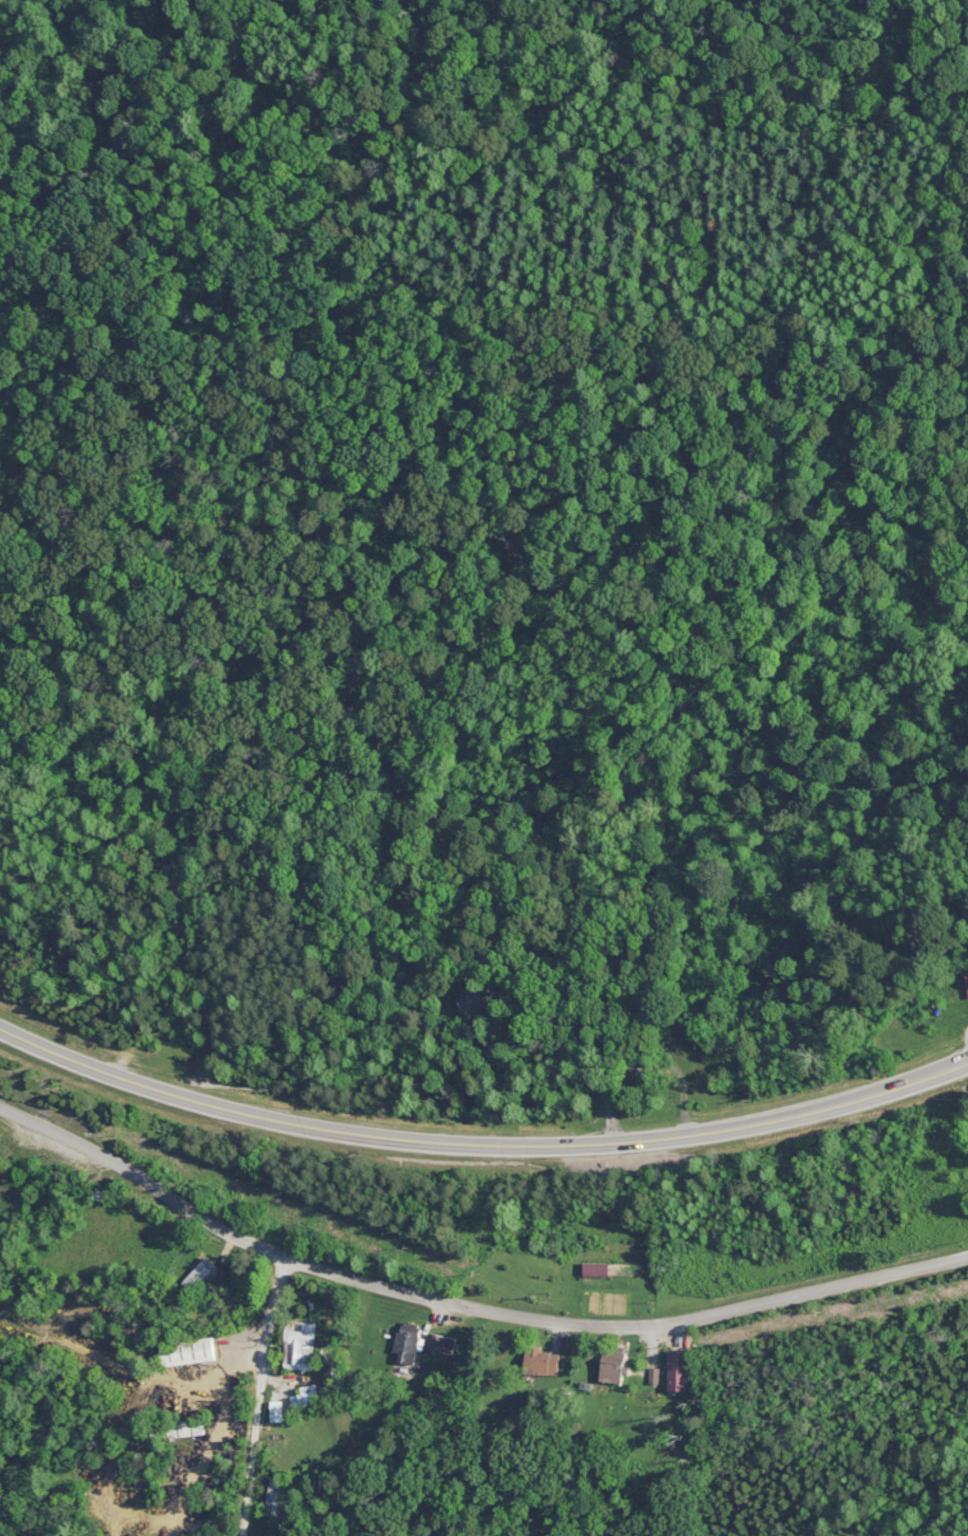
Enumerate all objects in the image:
building: (966, 985)
building: (478, 1002)
building: (619, 1010)
road: (594, 1054)
road: (832, 1105)
road: (338, 1132)
building: (597, 1270)
building: (199, 1274)
road: (467, 1303)
building: (442, 1341)
building: (300, 1342)
building: (408, 1344)
building: (188, 1349)
building: (544, 1361)
building: (614, 1365)
building: (680, 1368)
road: (265, 1396)
building: (191, 1426)
building: (274, 1495)

